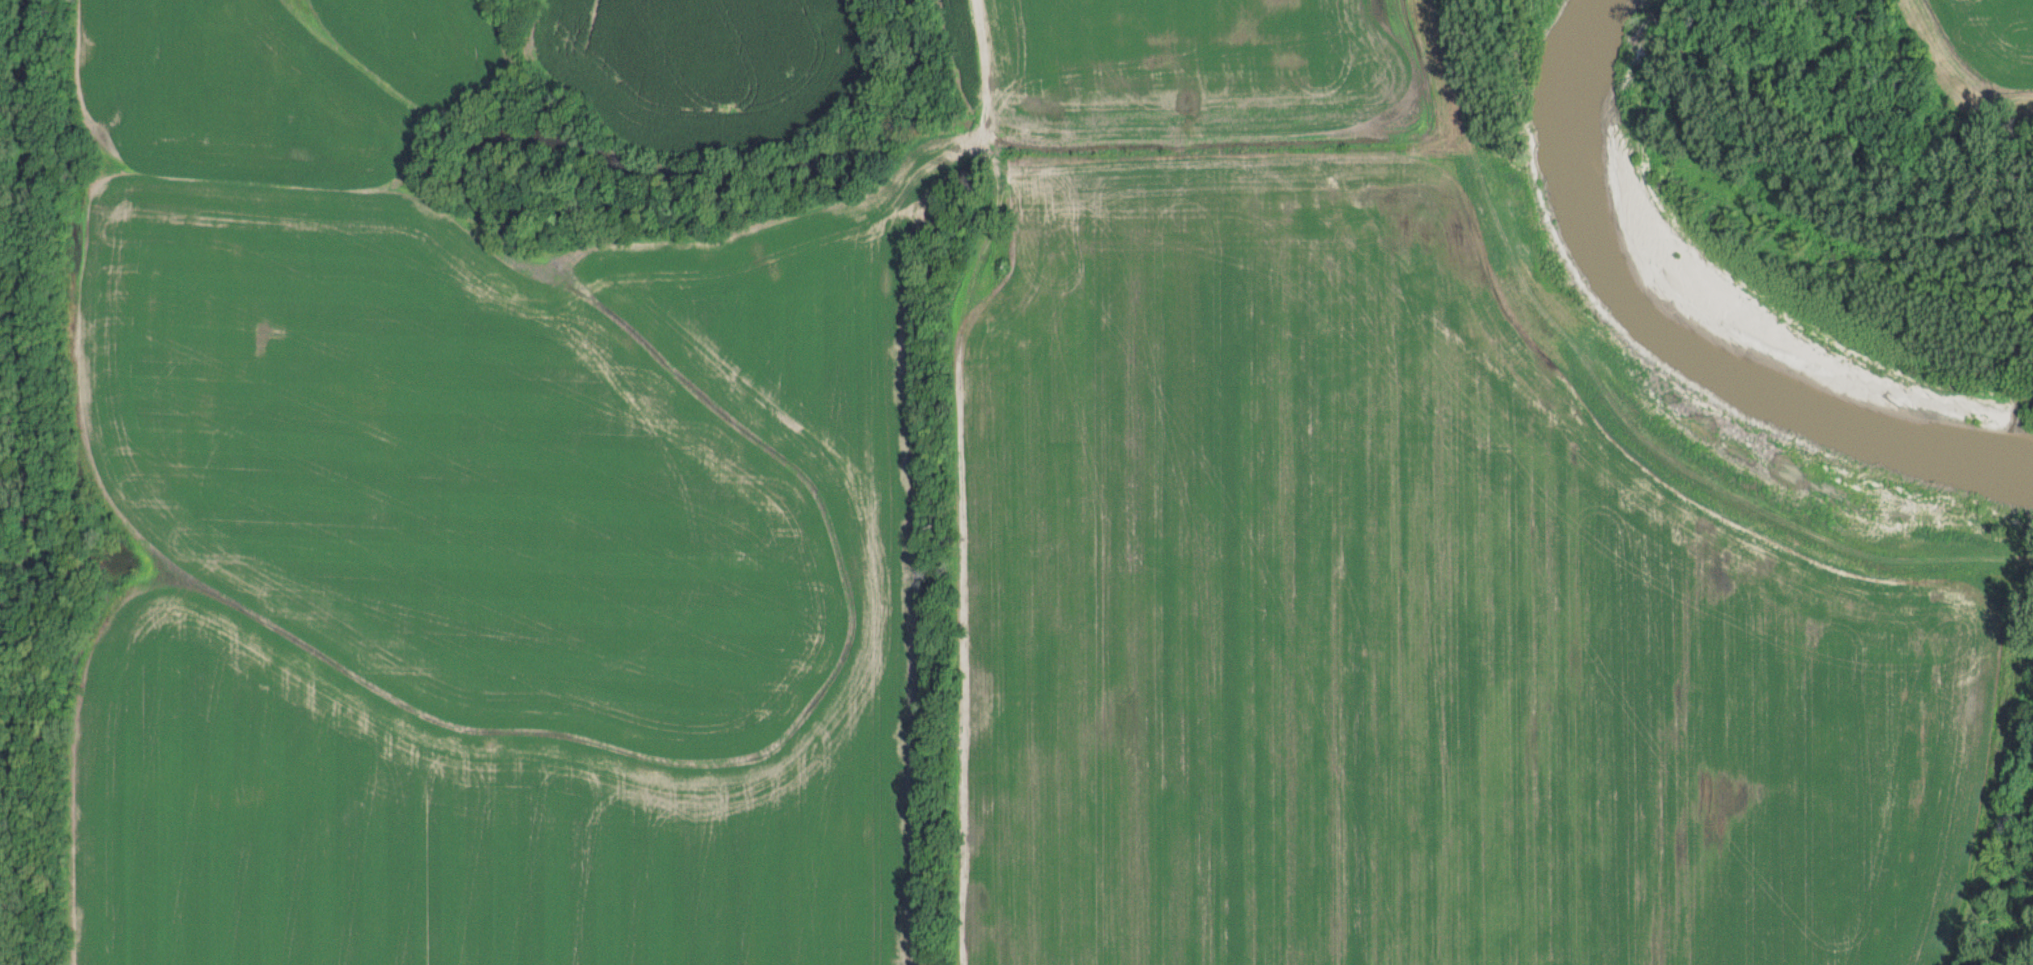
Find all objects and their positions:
river: (1712, 290)

